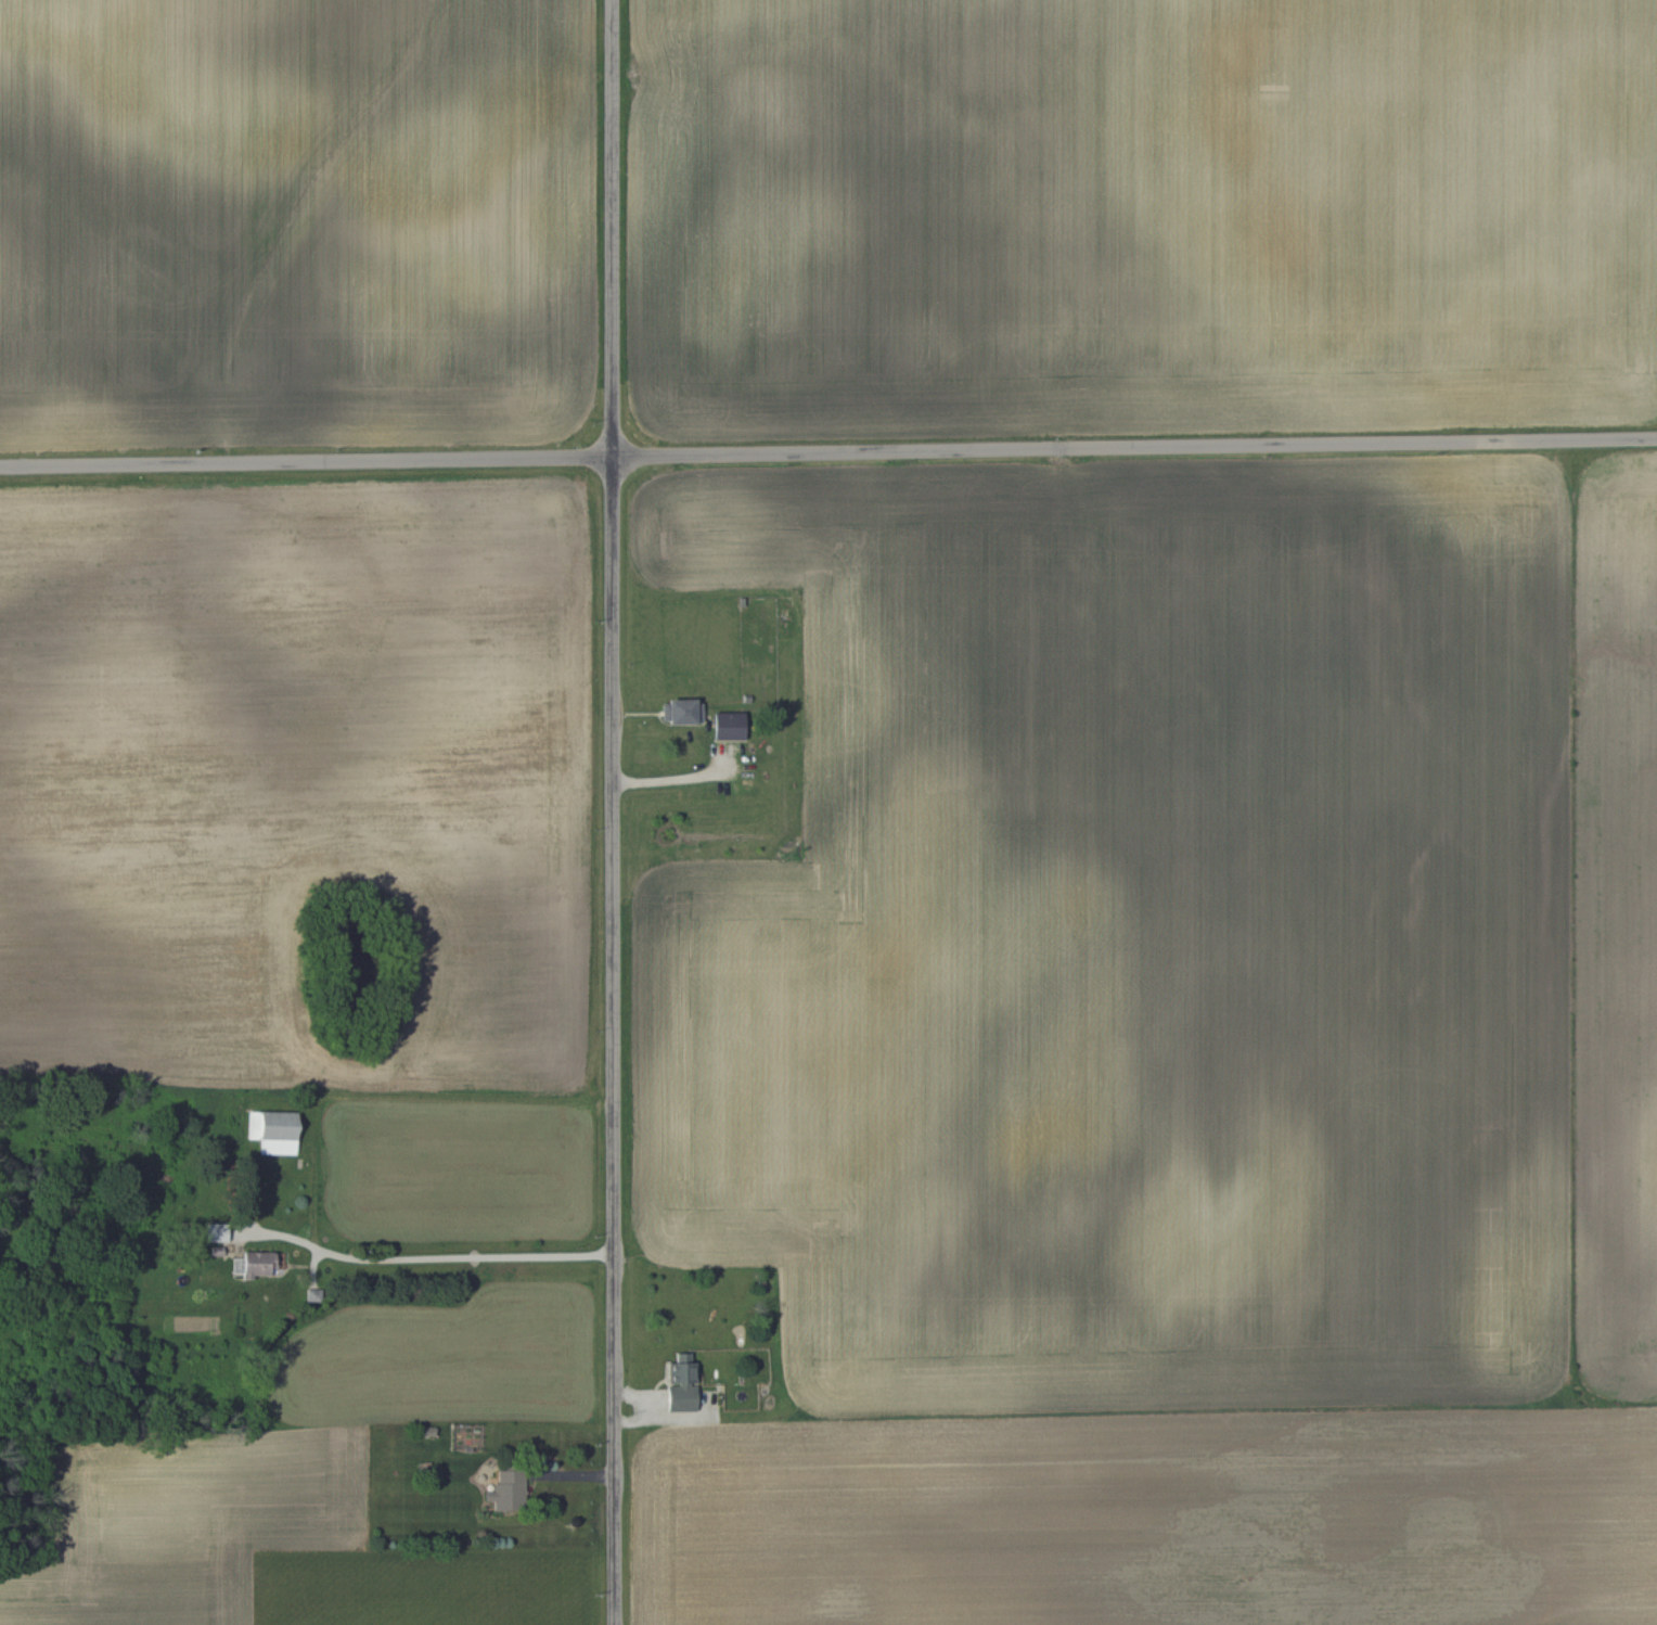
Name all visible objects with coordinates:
road: (828, 451)
building: (679, 709)
building: (723, 725)
road: (676, 773)
road: (613, 811)
building: (271, 1130)
building: (213, 1231)
road: (435, 1255)
building: (252, 1263)
building: (679, 1383)
building: (504, 1489)

